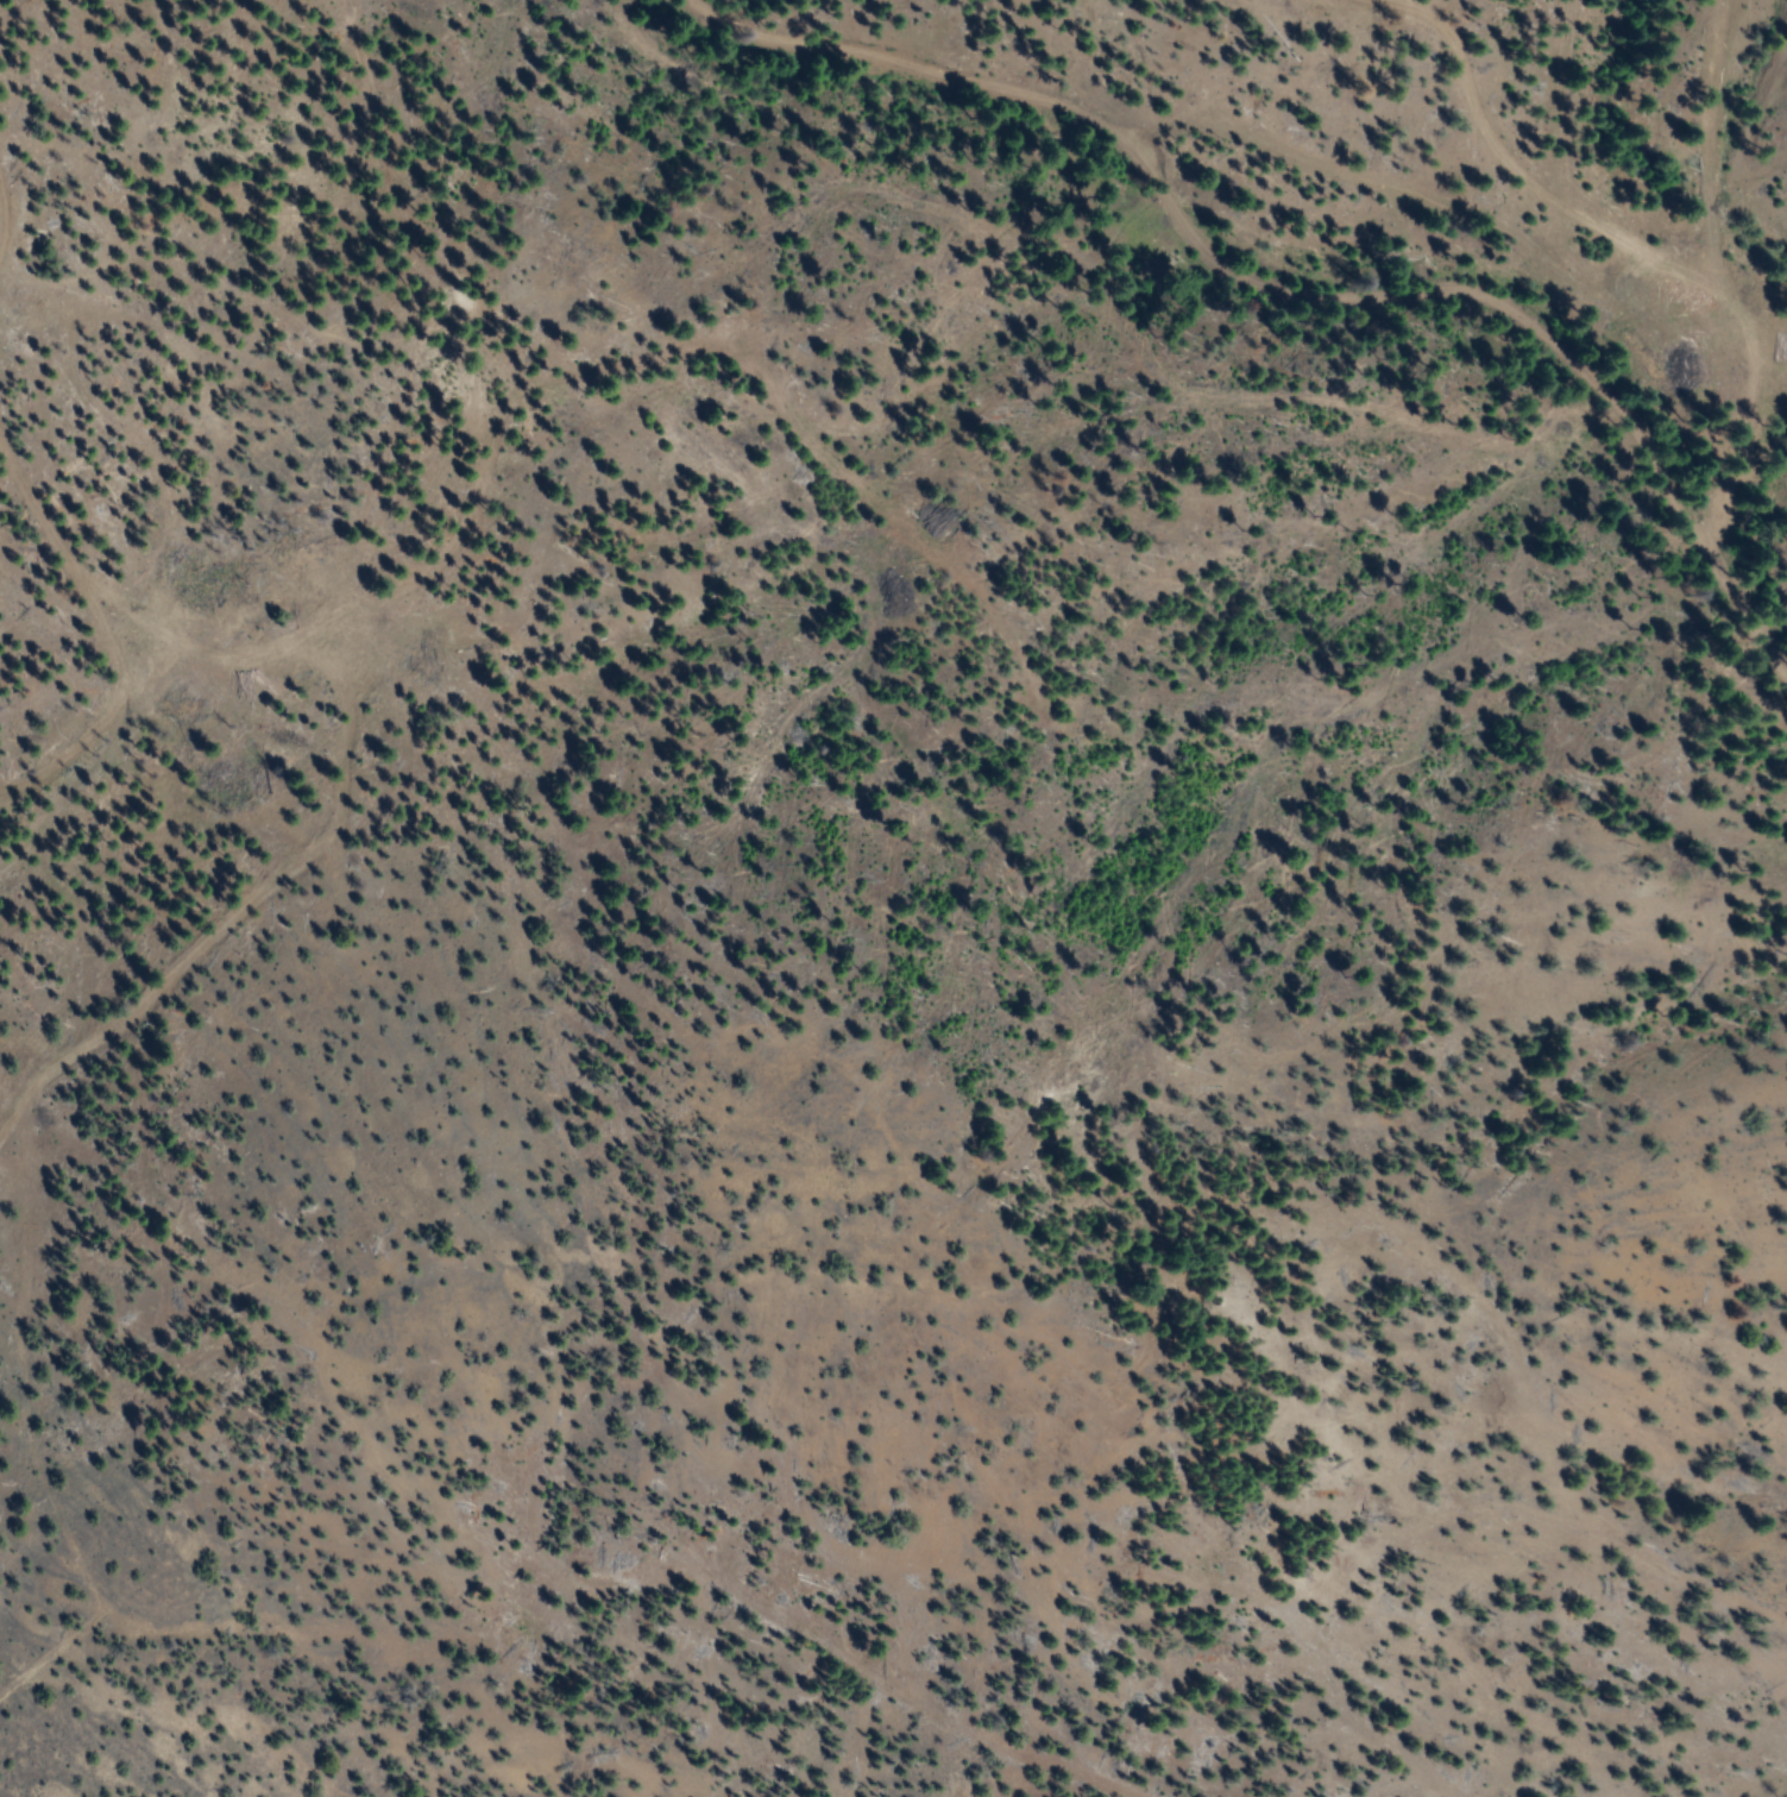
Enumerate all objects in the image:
road: (1649, 300)

